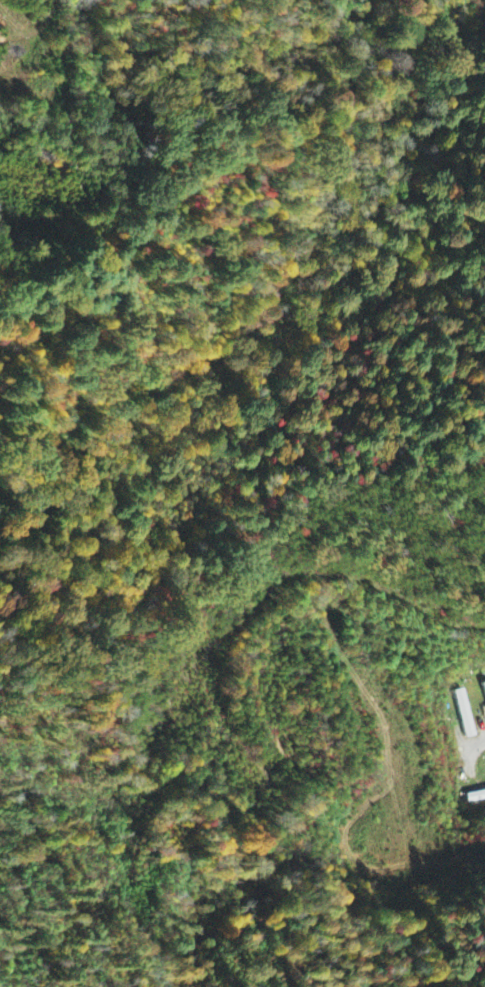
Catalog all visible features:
building: (484, 687)
building: (465, 714)
road: (388, 742)
road: (480, 744)
building: (477, 798)

